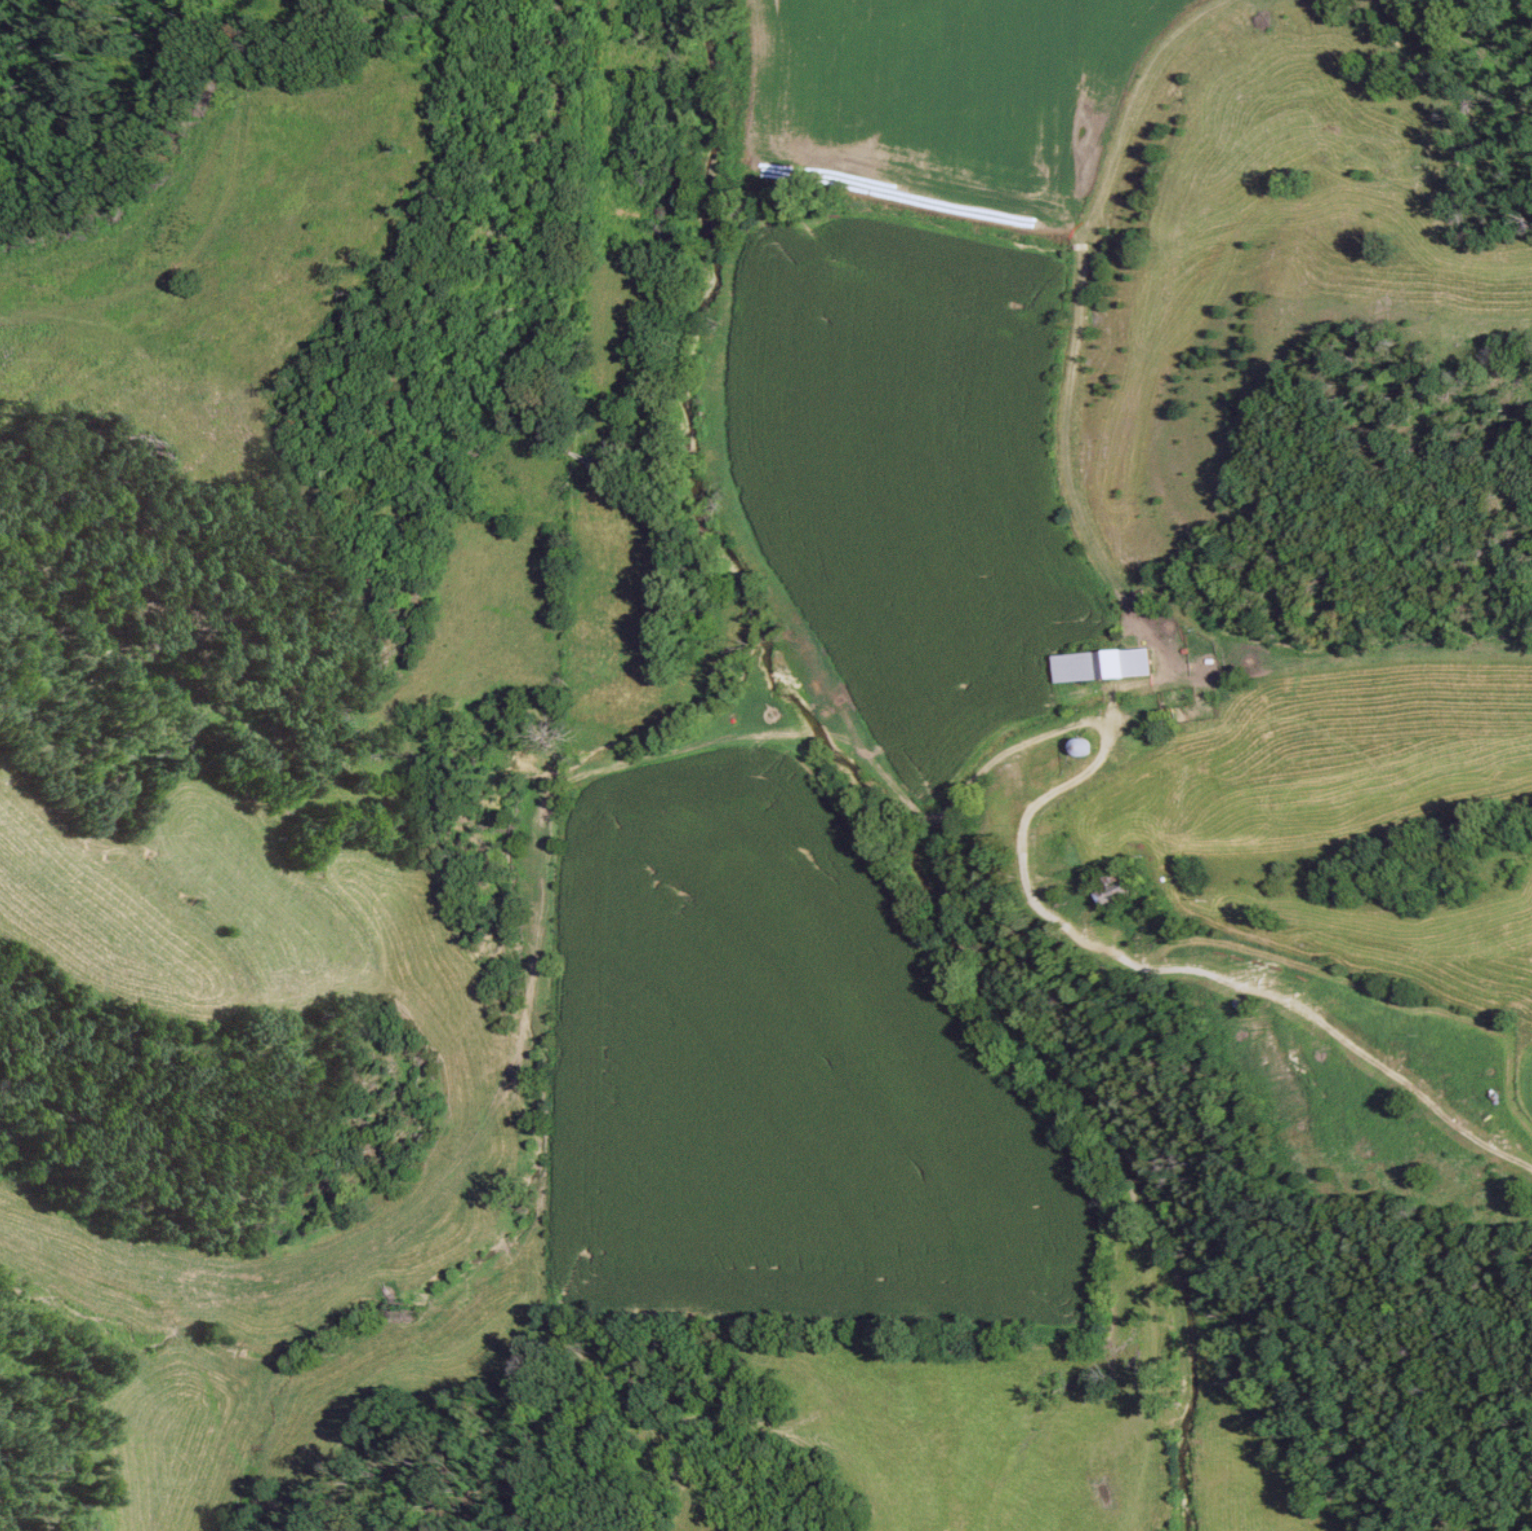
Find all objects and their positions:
building: (1103, 665)
building: (1079, 747)
building: (1116, 889)
road: (1178, 970)

